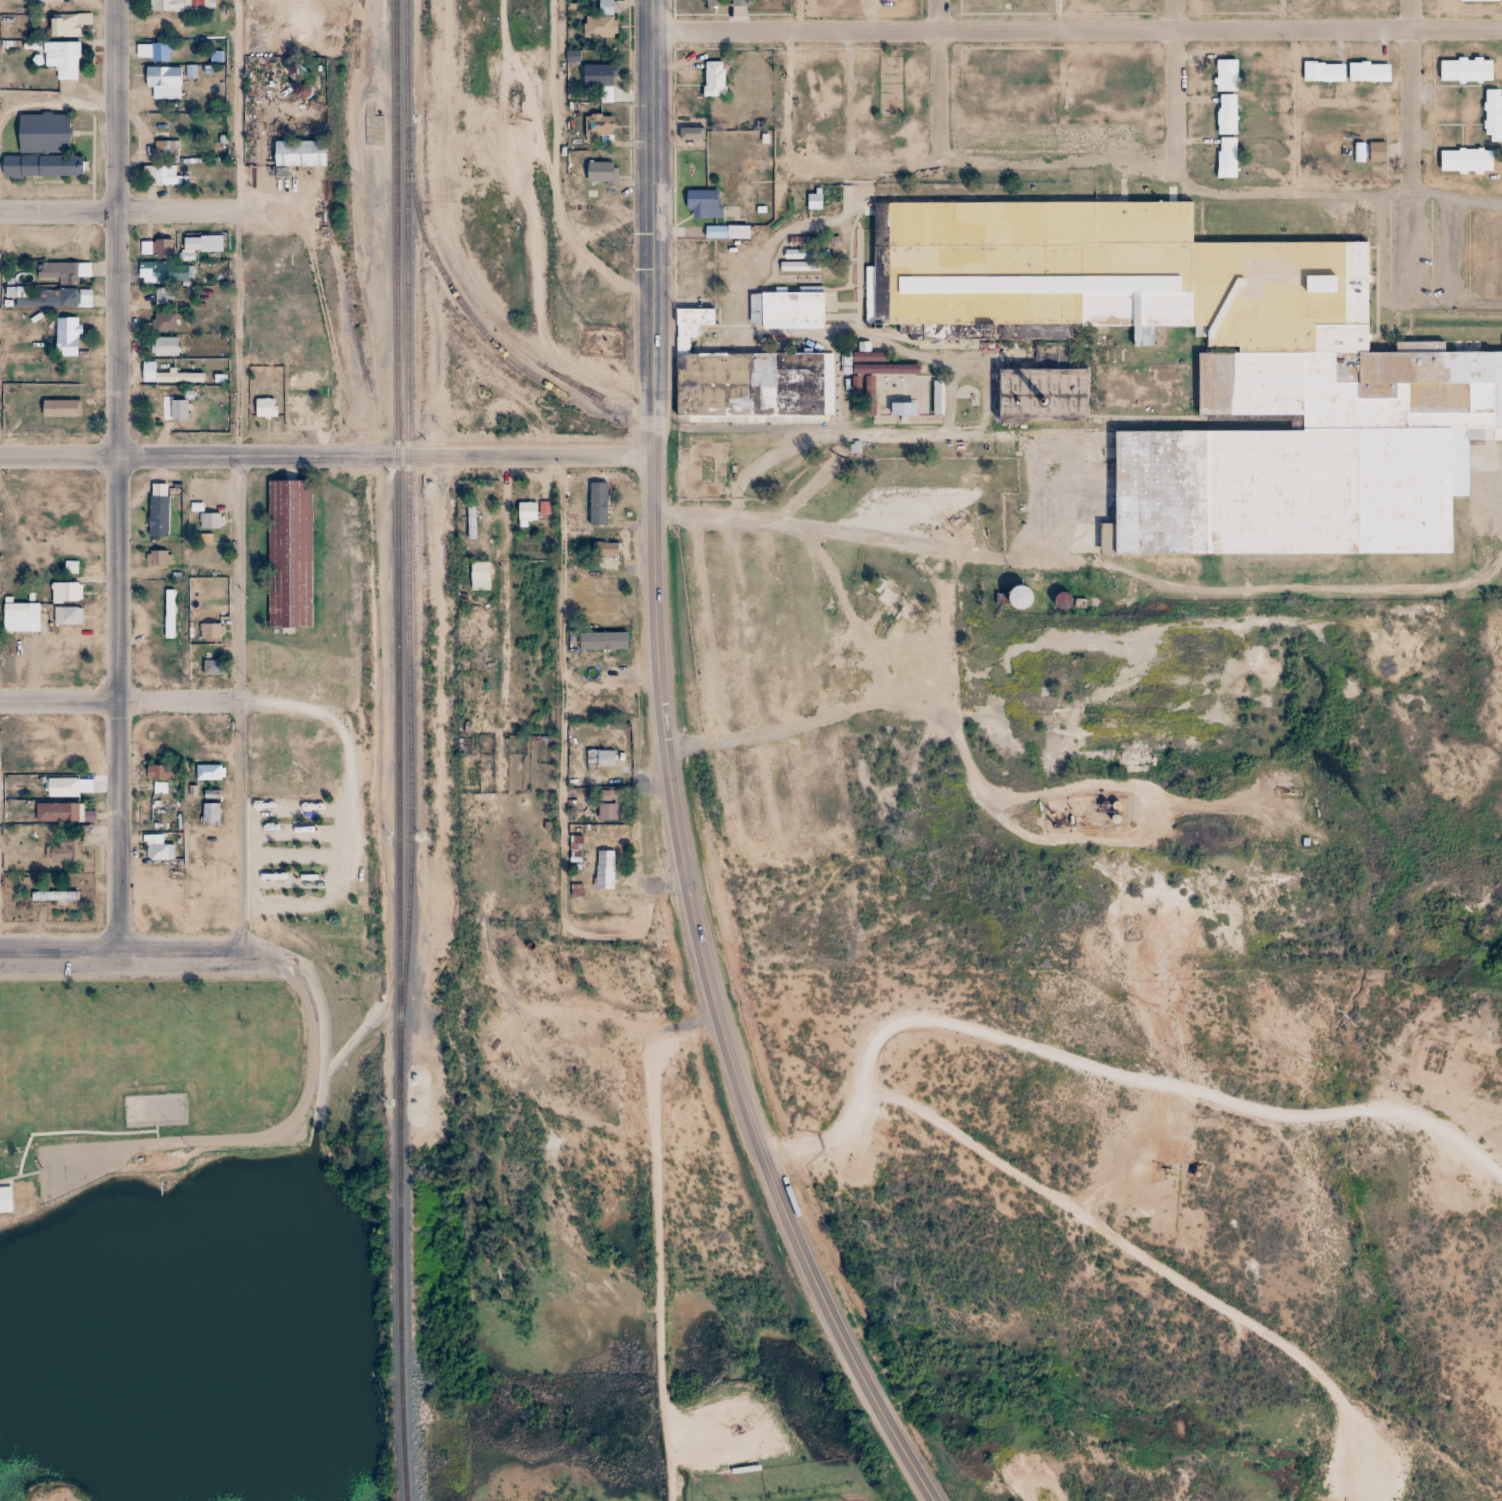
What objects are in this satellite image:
building: (1113, 0)
building: (1220, 0)
building: (1097, 1)
building: (1237, 1)
building: (886, 2)
building: (711, 3)
building: (738, 3)
building: (1473, 3)
building: (1006, 4)
building: (168, 5)
road: (1280, 15)
road: (651, 16)
road: (797, 16)
road: (1054, 16)
building: (597, 20)
building: (61, 26)
building: (165, 27)
road: (1076, 32)
building: (154, 51)
building: (64, 59)
building: (164, 76)
building: (1460, 76)
building: (597, 77)
building: (1318, 77)
building: (1364, 78)
building: (1221, 82)
building: (711, 83)
road: (941, 83)
road: (1177, 89)
road: (1414, 96)
road: (1291, 113)
building: (1222, 120)
building: (1489, 120)
building: (599, 126)
building: (43, 133)
building: (690, 138)
building: (298, 153)
building: (1372, 153)
building: (1355, 158)
building: (1222, 165)
building: (42, 166)
building: (1462, 167)
building: (602, 173)
building: (159, 175)
road: (553, 176)
road: (1221, 192)
building: (701, 208)
road: (132, 211)
road: (237, 228)
building: (162, 248)
building: (63, 272)
building: (165, 272)
railway: (452, 289)
building: (52, 298)
building: (785, 313)
building: (164, 322)
building: (67, 337)
building: (164, 346)
building: (1214, 373)
building: (744, 383)
building: (31, 397)
building: (1041, 400)
building: (265, 407)
building: (172, 410)
building: (879, 449)
road: (118, 456)
road: (445, 457)
road: (120, 478)
building: (526, 513)
building: (601, 514)
building: (158, 516)
building: (212, 521)
railway: (408, 528)
road: (868, 538)
building: (606, 549)
building: (159, 558)
building: (210, 558)
building: (285, 559)
building: (480, 576)
building: (65, 592)
building: (1016, 599)
building: (1059, 606)
building: (604, 611)
building: (67, 615)
building: (20, 617)
building: (210, 631)
building: (598, 647)
building: (212, 665)
road: (172, 700)
road: (238, 707)
road: (858, 709)
railway: (399, 750)
building: (599, 758)
building: (160, 772)
building: (209, 772)
building: (74, 787)
road: (674, 791)
road: (293, 809)
road: (347, 811)
building: (67, 812)
building: (210, 814)
road: (293, 835)
building: (160, 852)
road: (291, 856)
building: (605, 869)
road: (288, 881)
building: (54, 896)
road: (286, 908)
road: (181, 958)
park: (193, 1067)
road: (1106, 1067)
park: (154, 1112)
road: (61, 1136)
road: (154, 1137)
road: (215, 1140)
parking lot: (78, 1164)
road: (28, 1178)
building: (4, 1202)
road: (658, 1227)
road: (1136, 1260)

